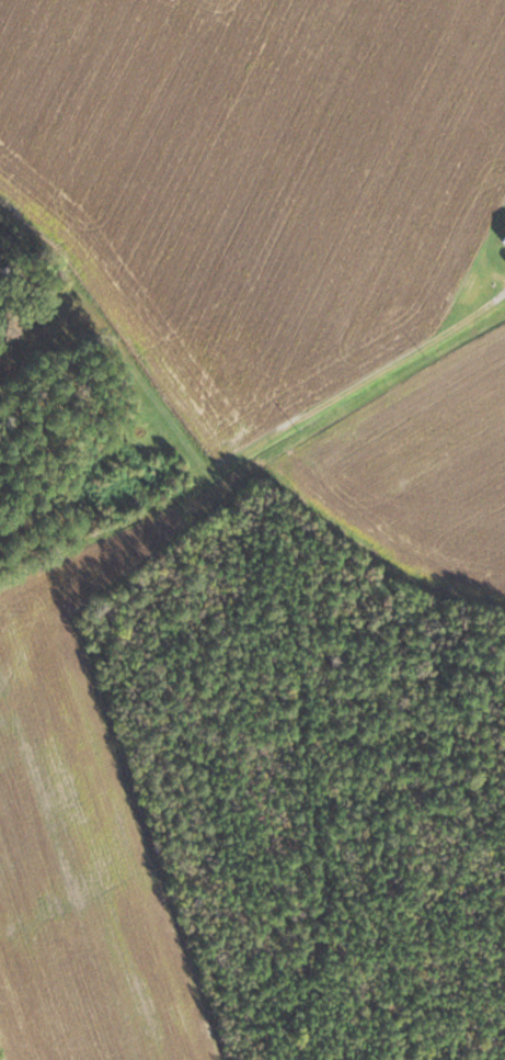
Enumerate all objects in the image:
building: (169, 37)
building: (249, 127)
building: (363, 136)
building: (504, 244)
building: (474, 290)
road: (399, 356)
building: (234, 401)

